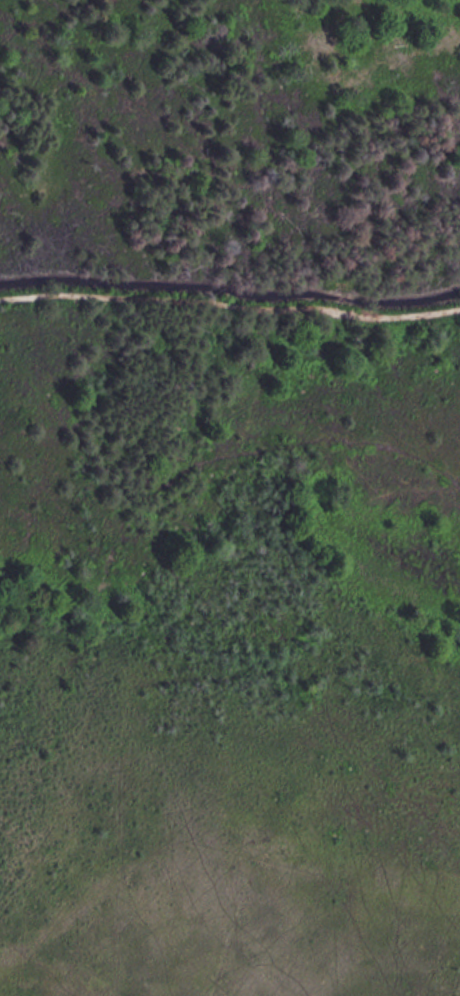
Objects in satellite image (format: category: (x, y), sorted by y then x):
road: (230, 314)

